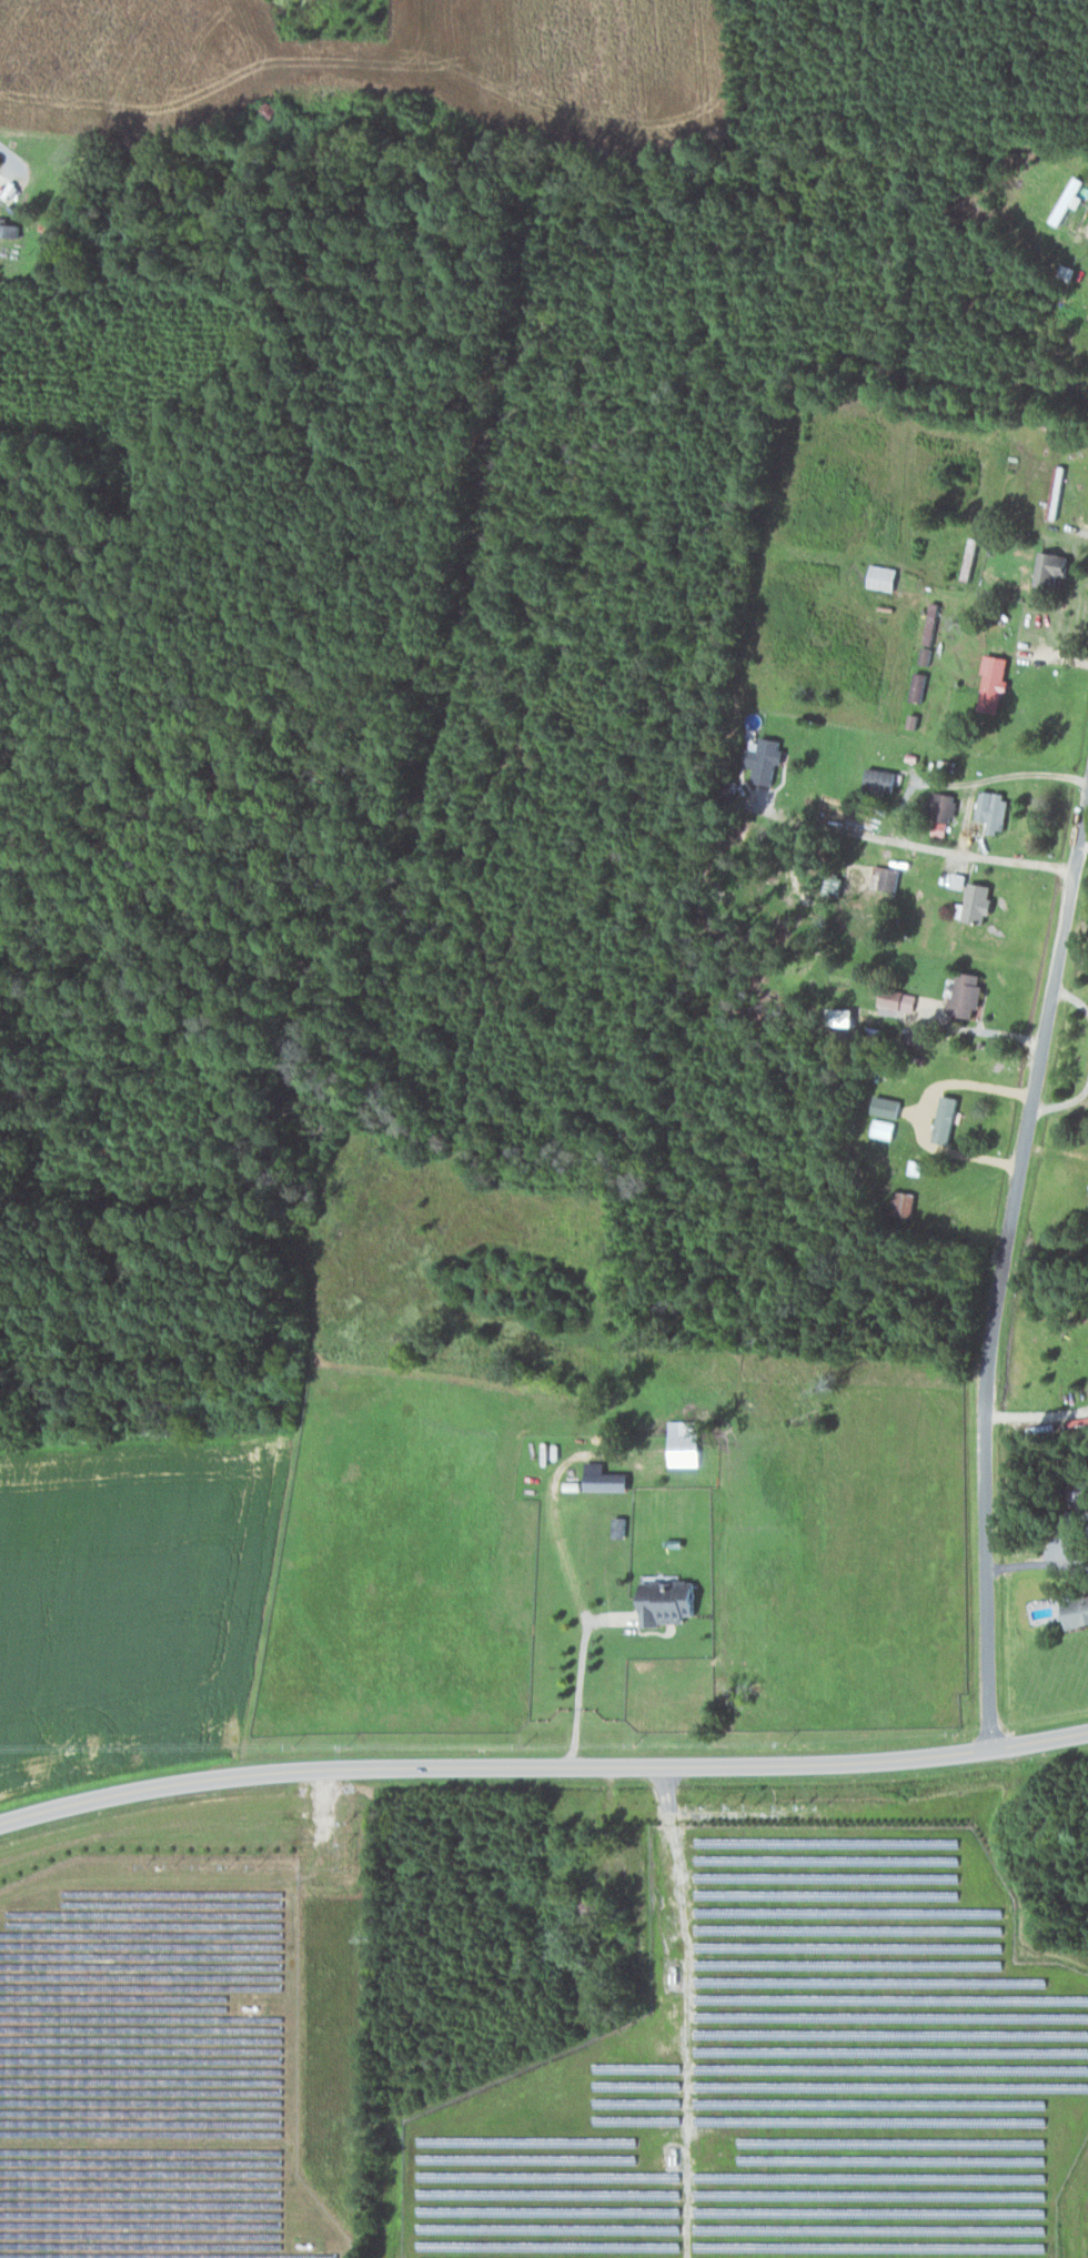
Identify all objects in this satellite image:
road: (8, 158)
building: (1068, 200)
building: (11, 228)
road: (946, 412)
building: (1058, 491)
building: (1055, 566)
building: (886, 576)
building: (934, 622)
building: (927, 655)
building: (997, 683)
building: (920, 686)
building: (768, 759)
building: (884, 777)
road: (898, 808)
building: (944, 808)
building: (995, 808)
road: (1082, 839)
building: (887, 877)
building: (969, 994)
building: (920, 1035)
building: (888, 1106)
building: (947, 1118)
building: (885, 1128)
road: (998, 1261)
road: (1036, 1414)
building: (686, 1442)
building: (608, 1478)
building: (1078, 1611)
road: (542, 1762)
solar farm: (154, 2062)

